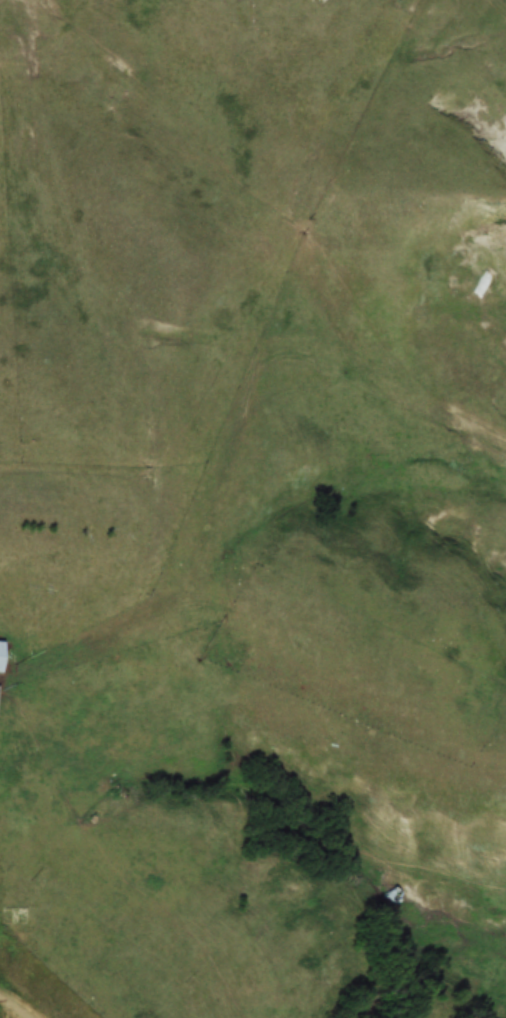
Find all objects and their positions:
building: (485, 285)
road: (37, 995)

